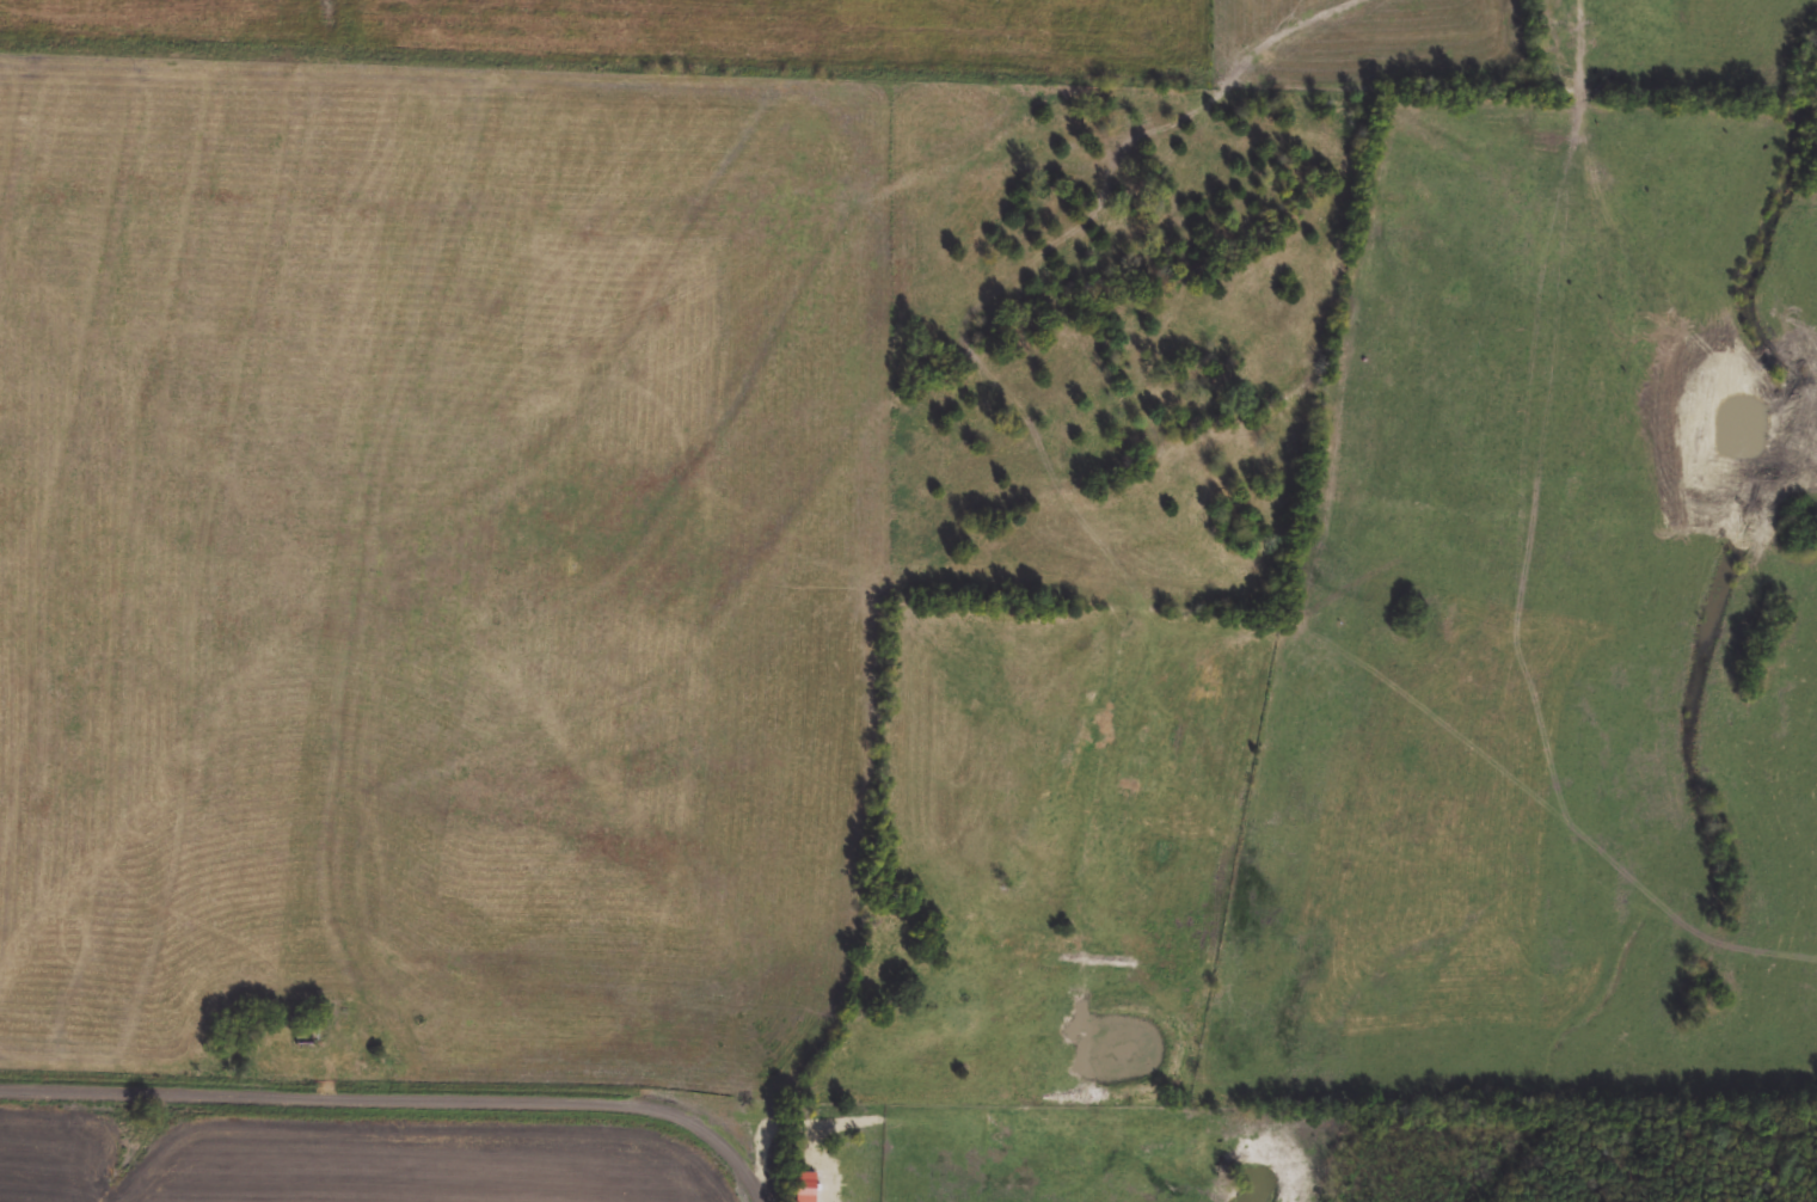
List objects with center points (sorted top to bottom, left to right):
building: (308, 1038)
road: (398, 1106)

